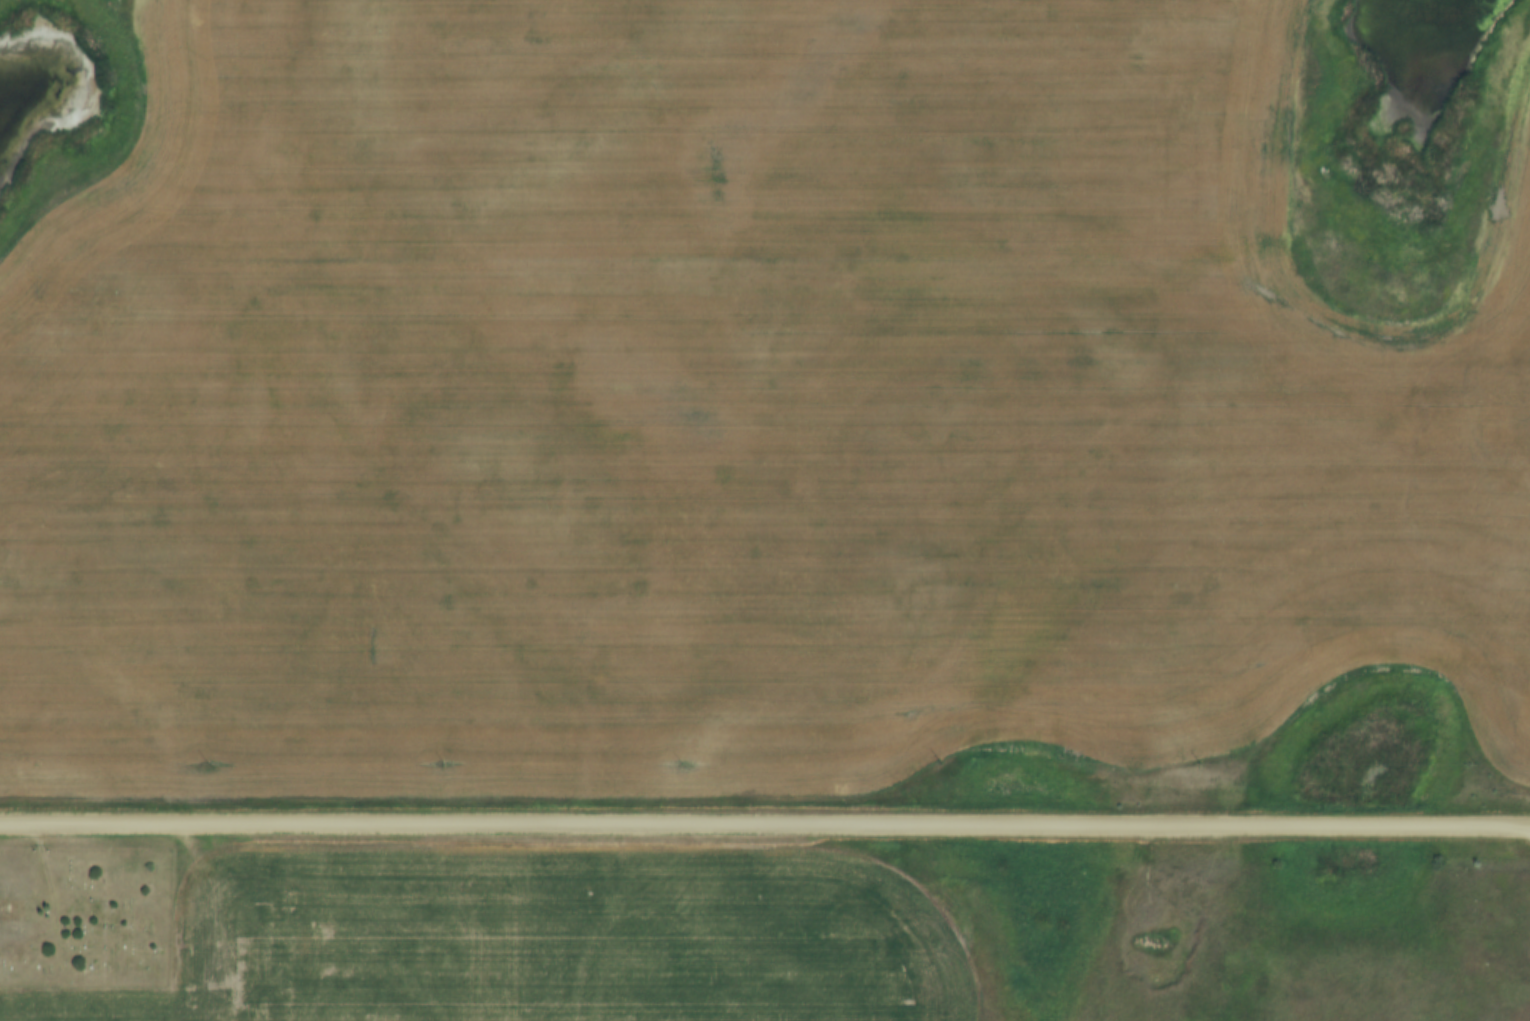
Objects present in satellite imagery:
road: (116, 143)
road: (765, 826)
road: (179, 907)
park: (86, 919)

